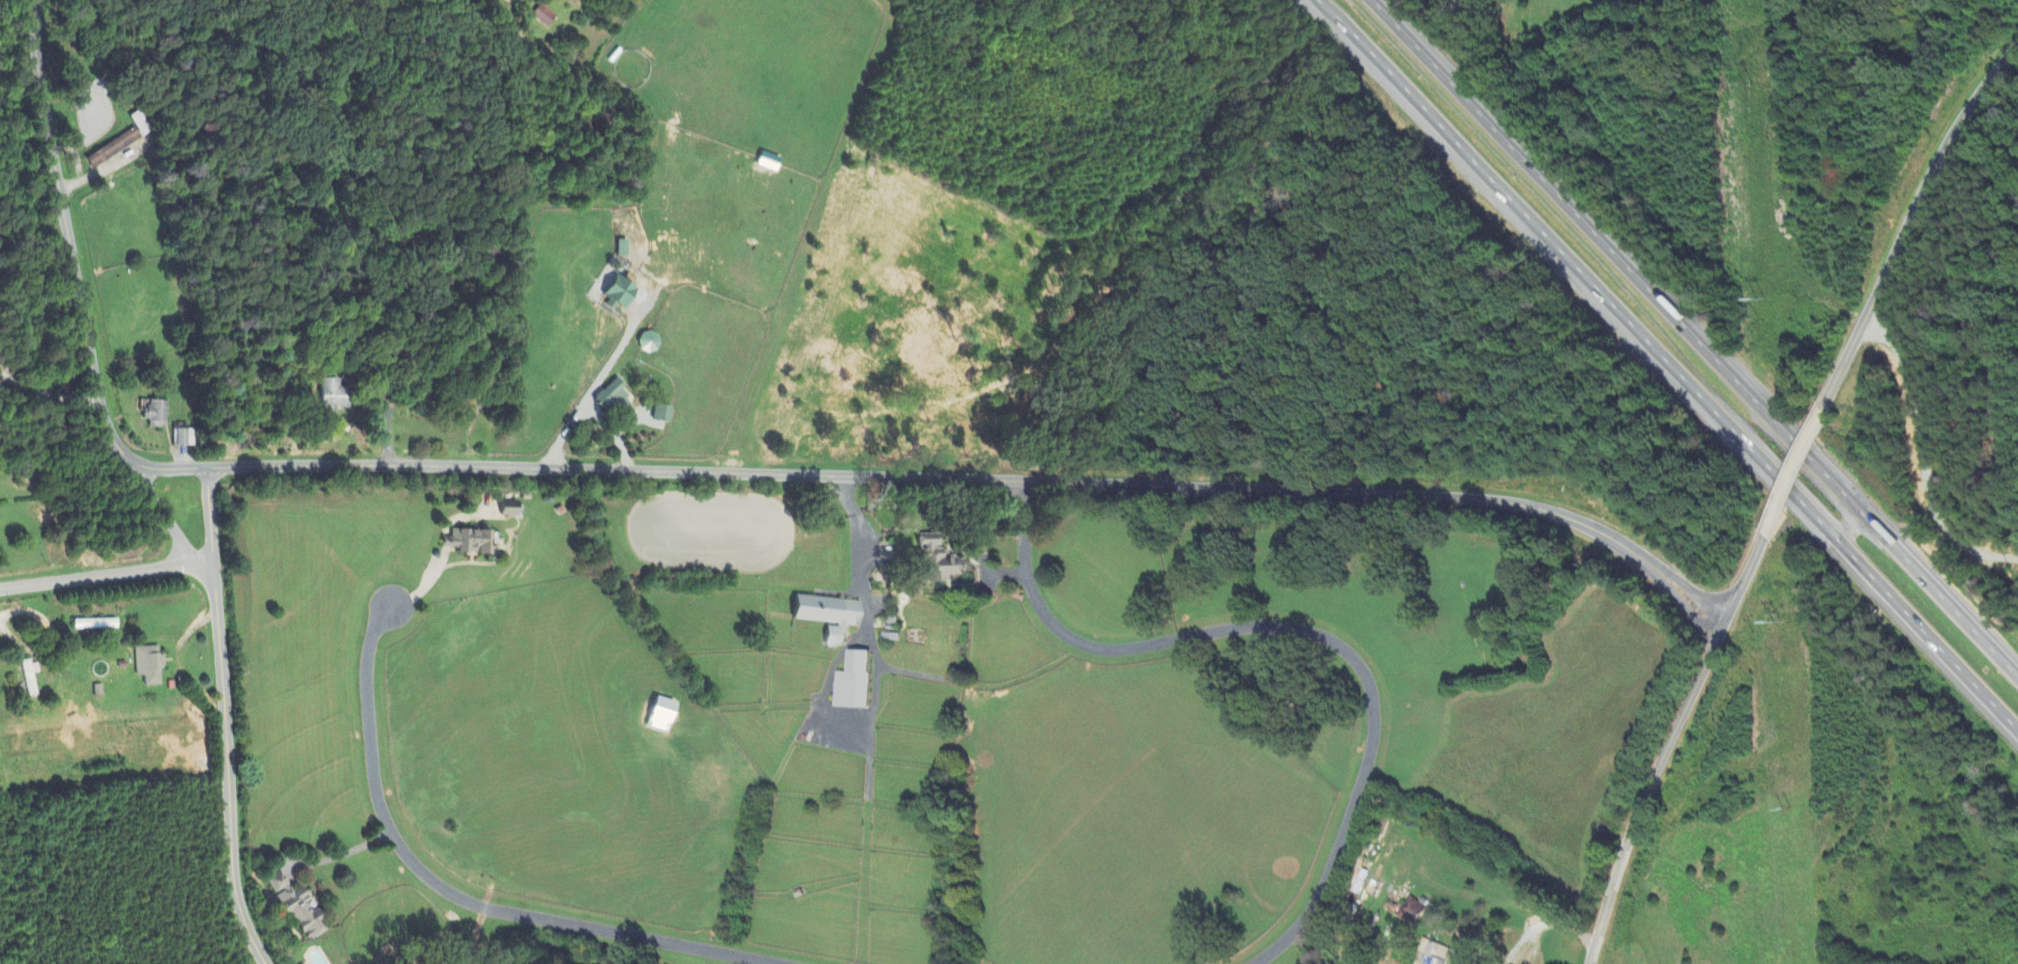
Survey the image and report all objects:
building: (543, 16)
building: (113, 149)
building: (768, 162)
road: (105, 169)
road: (1910, 214)
road: (1585, 259)
road: (1626, 264)
building: (618, 293)
building: (648, 343)
road: (47, 394)
building: (332, 396)
building: (611, 396)
road: (584, 402)
building: (662, 414)
building: (155, 415)
road: (614, 434)
building: (184, 438)
road: (1806, 446)
road: (569, 472)
building: (508, 509)
road: (164, 513)
road: (1773, 516)
building: (469, 540)
road: (1611, 541)
road: (1759, 546)
road: (860, 554)
building: (937, 560)
road: (107, 575)
road: (1738, 587)
road: (1947, 603)
building: (828, 614)
building: (95, 623)
road: (1922, 632)
road: (1291, 640)
building: (148, 663)
building: (29, 675)
building: (853, 680)
building: (662, 714)
road: (227, 718)
road: (1648, 788)
road: (344, 853)
road: (451, 891)
building: (298, 906)
building: (1411, 912)
road: (1542, 924)
building: (1438, 954)

